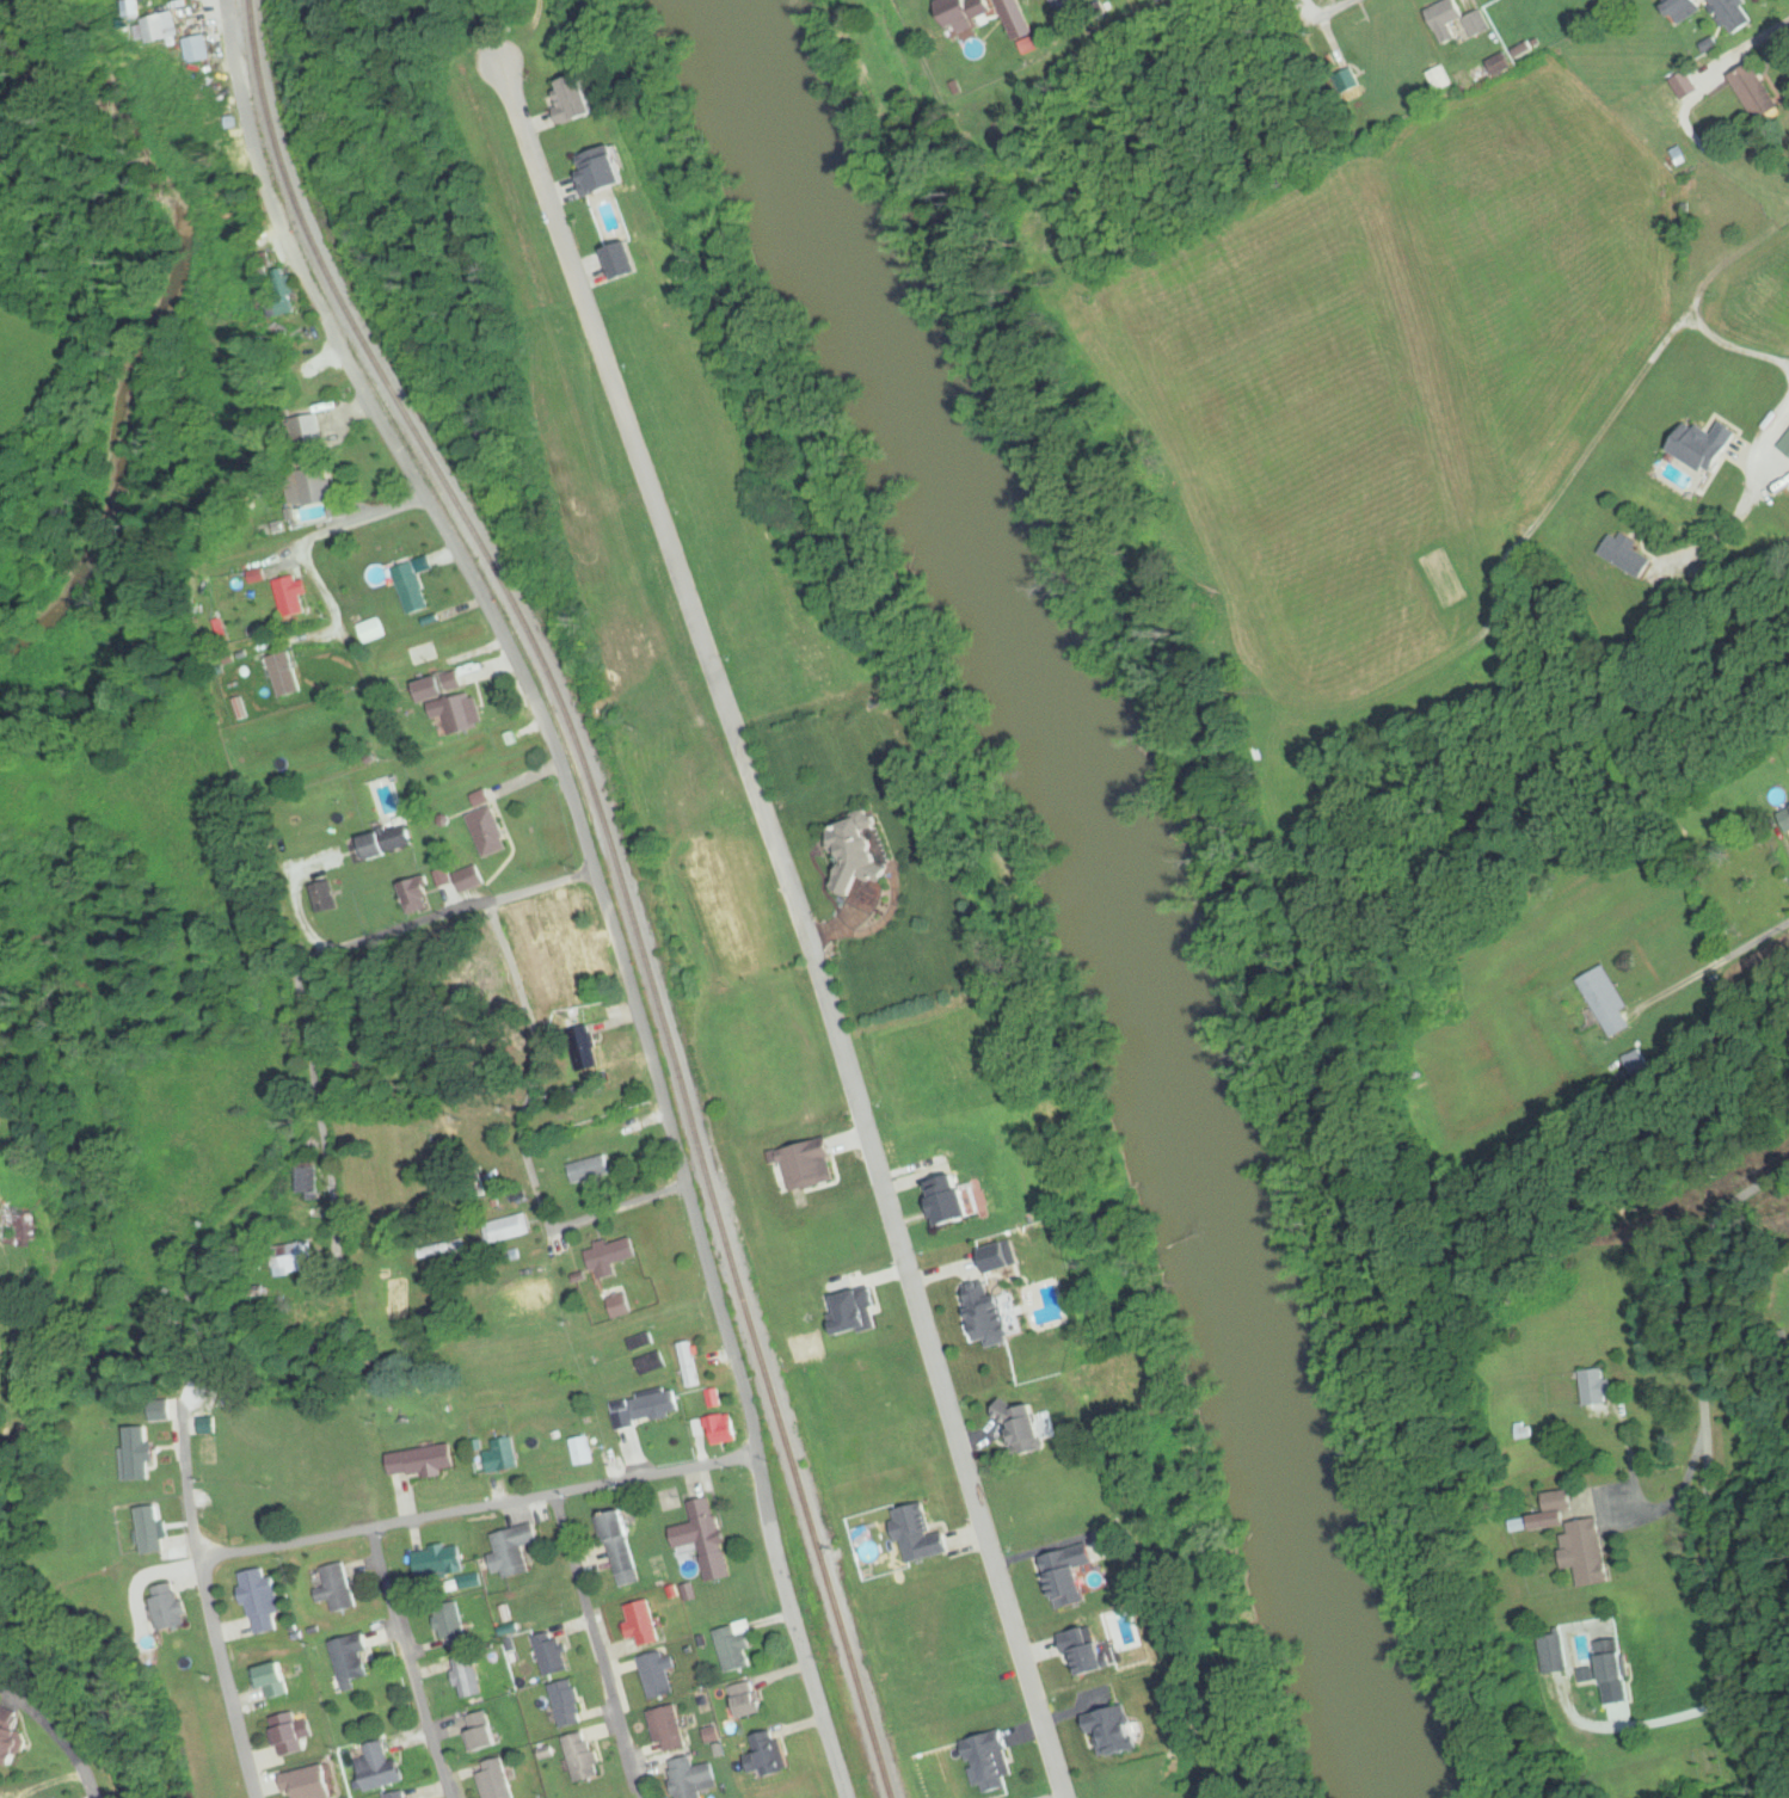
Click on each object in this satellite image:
building: (1568, 2)
road: (1339, 11)
building: (1736, 12)
road: (228, 13)
building: (967, 13)
building: (1019, 23)
building: (1452, 23)
building: (159, 29)
building: (196, 50)
building: (1759, 90)
road: (1702, 302)
building: (309, 432)
building: (1708, 447)
road: (1750, 480)
building: (314, 492)
road: (365, 523)
building: (1627, 554)
building: (412, 590)
building: (294, 596)
road: (480, 597)
building: (373, 632)
building: (287, 675)
building: (453, 708)
building: (1785, 819)
building: (490, 832)
building: (387, 842)
railway: (608, 878)
building: (472, 879)
river: (1125, 880)
building: (417, 895)
road: (315, 900)
road: (799, 925)
road: (314, 963)
building: (1602, 996)
building: (1635, 1061)
road: (508, 1119)
road: (383, 1146)
building: (307, 1182)
building: (952, 1200)
building: (16, 1224)
road: (579, 1226)
building: (508, 1230)
building: (442, 1248)
building: (294, 1258)
building: (613, 1273)
building: (992, 1313)
road: (723, 1320)
building: (641, 1342)
road: (363, 1344)
building: (651, 1363)
building: (689, 1363)
building: (1597, 1387)
building: (646, 1408)
building: (723, 1424)
building: (1023, 1431)
building: (583, 1451)
building: (142, 1455)
building: (504, 1455)
building: (423, 1461)
road: (1708, 1466)
road: (187, 1479)
road: (1750, 1500)
road: (511, 1502)
building: (153, 1528)
building: (707, 1538)
building: (620, 1541)
building: (516, 1548)
building: (1587, 1551)
road: (233, 1552)
road: (204, 1558)
building: (441, 1560)
building: (1062, 1581)
building: (338, 1585)
building: (262, 1599)
building: (170, 1607)
building: (453, 1622)
building: (643, 1622)
road: (793, 1627)
building: (736, 1645)
road: (597, 1646)
building: (1082, 1650)
building: (352, 1658)
road: (408, 1664)
building: (659, 1674)
building: (468, 1676)
building: (277, 1680)
road: (229, 1688)
building: (748, 1698)
building: (570, 1702)
building: (669, 1726)
building: (481, 1731)
building: (1111, 1734)
building: (289, 1735)
building: (10, 1739)
building: (585, 1755)
building: (762, 1757)
building: (989, 1763)
building: (383, 1766)
building: (694, 1778)
building: (492, 1782)
building: (309, 1784)
building: (402, 1794)

